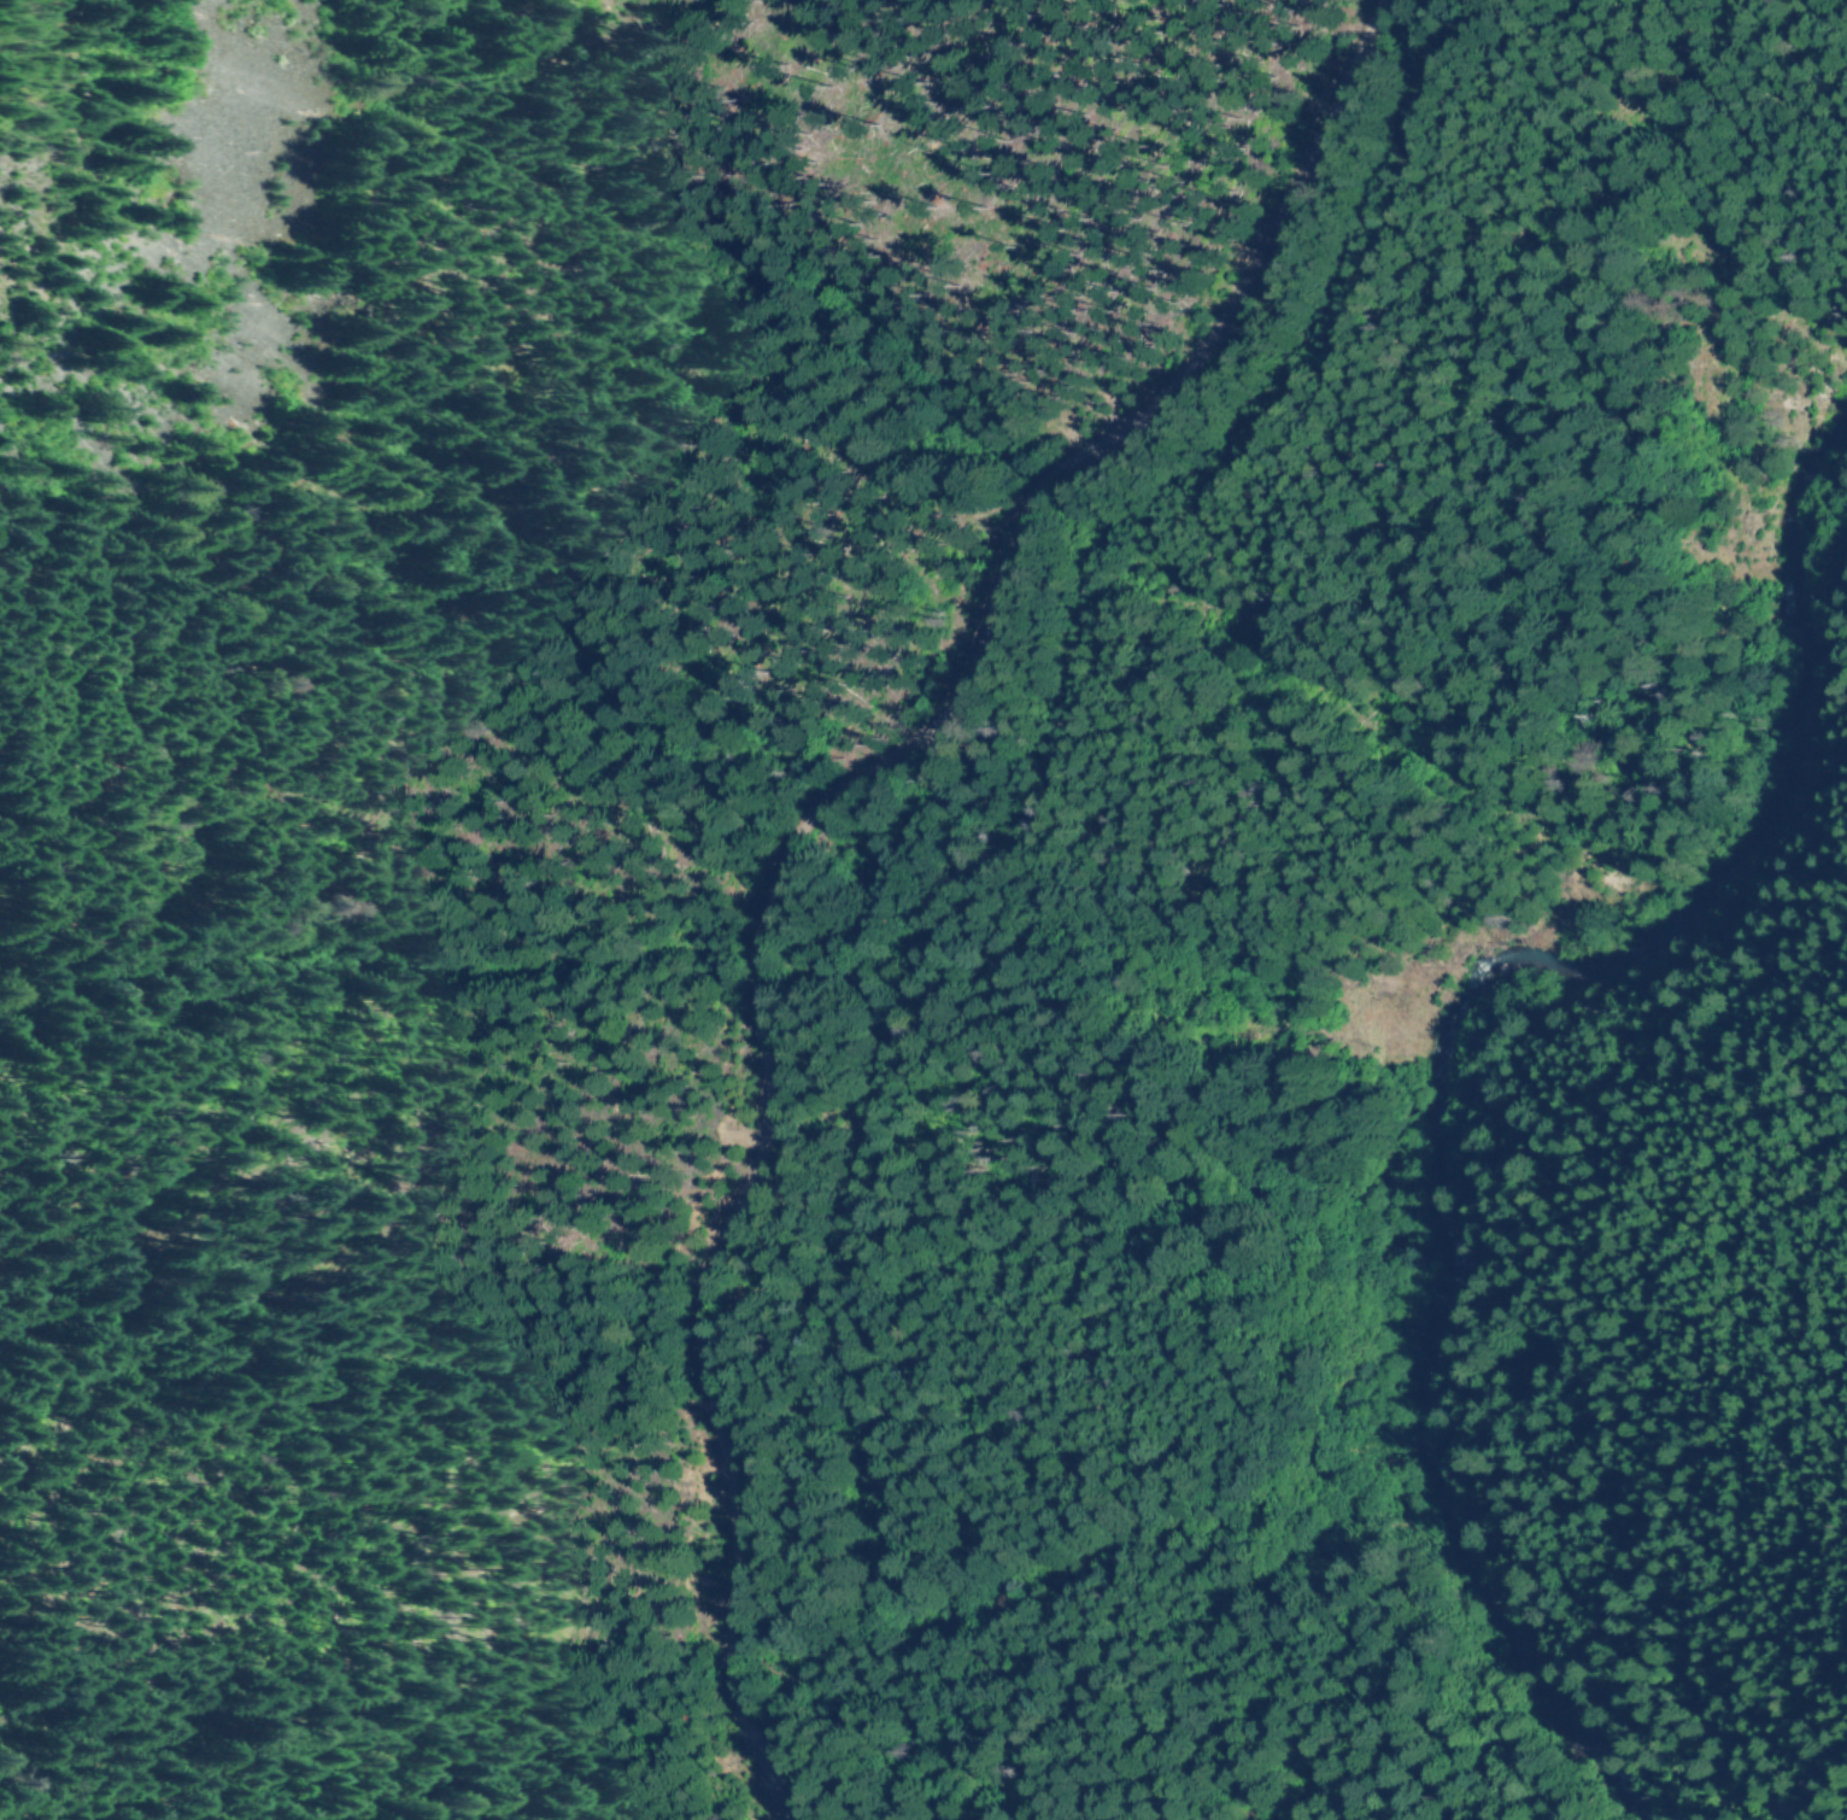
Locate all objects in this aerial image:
road: (788, 809)
river: (1506, 1095)

